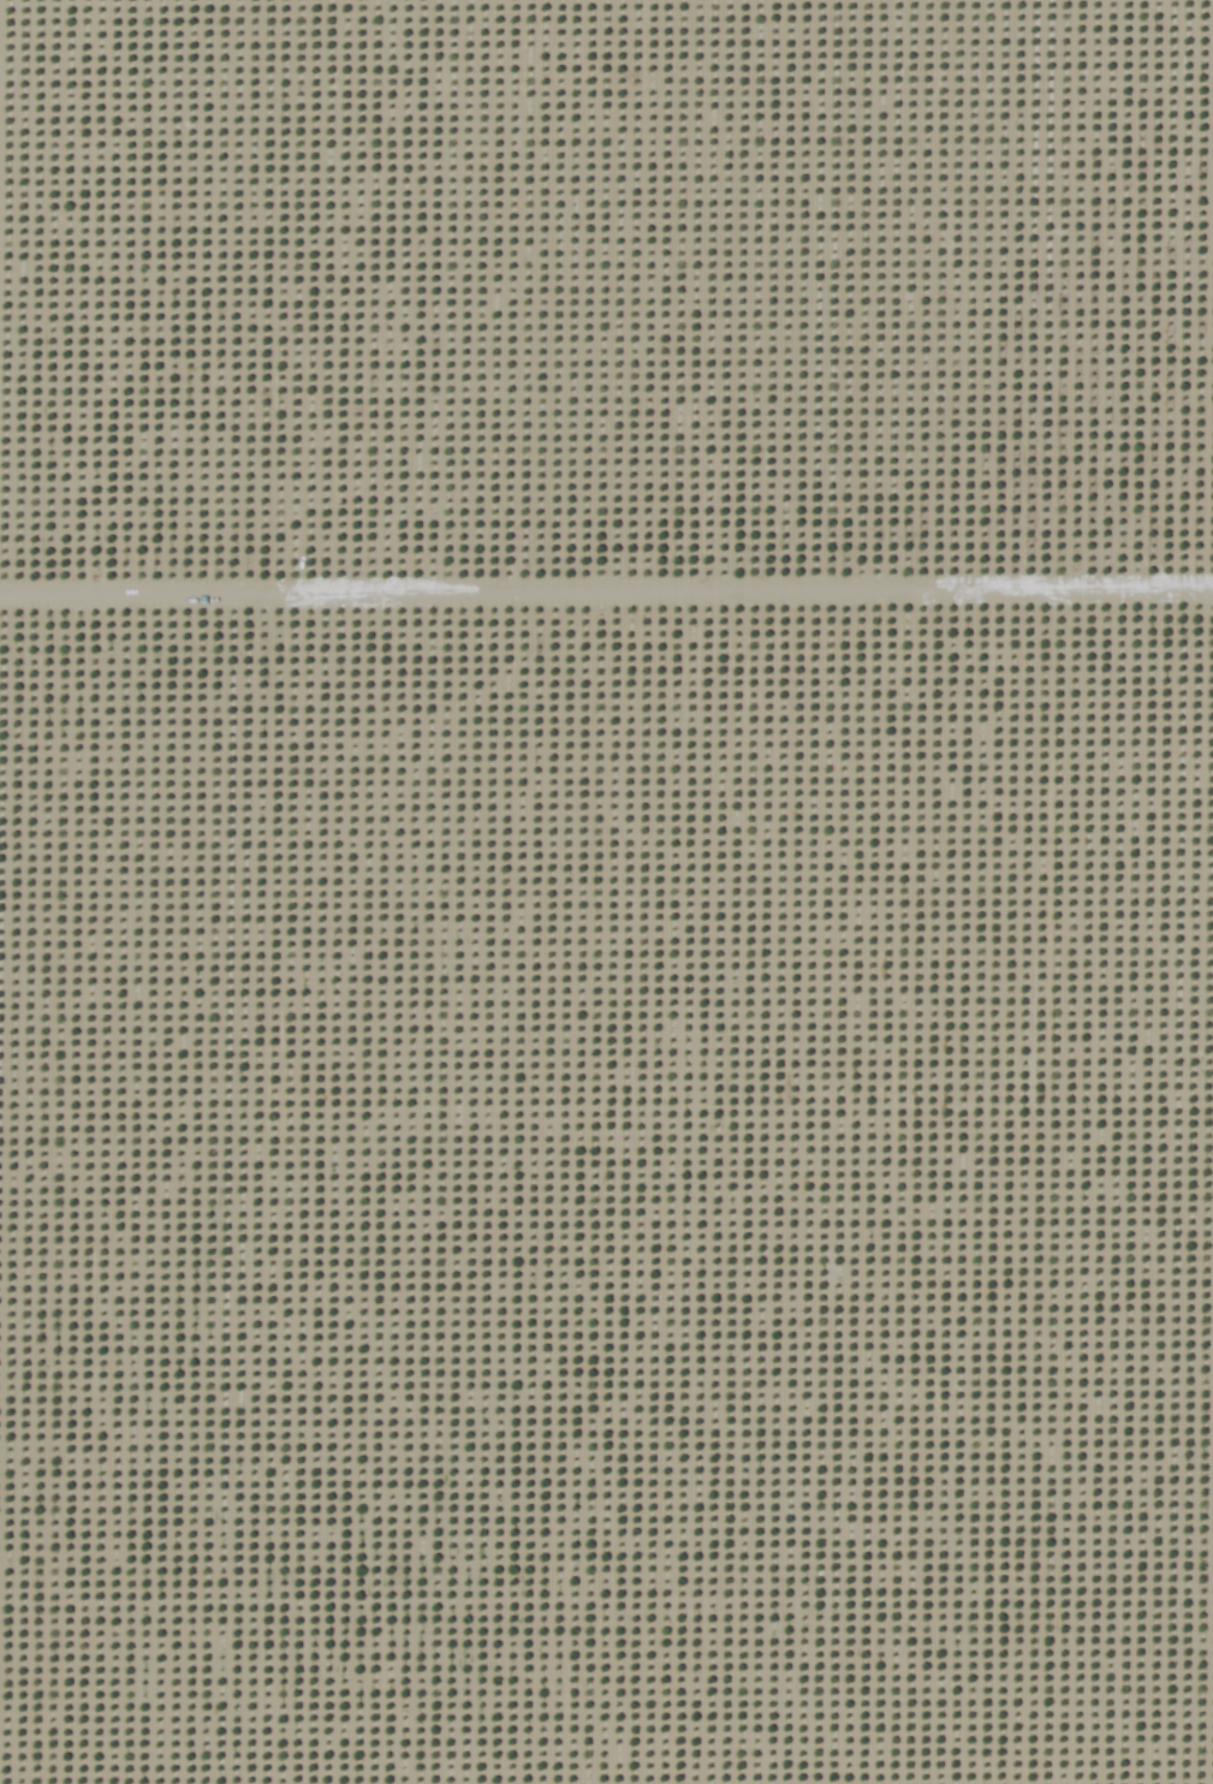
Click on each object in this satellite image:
crop: (606, 892)

